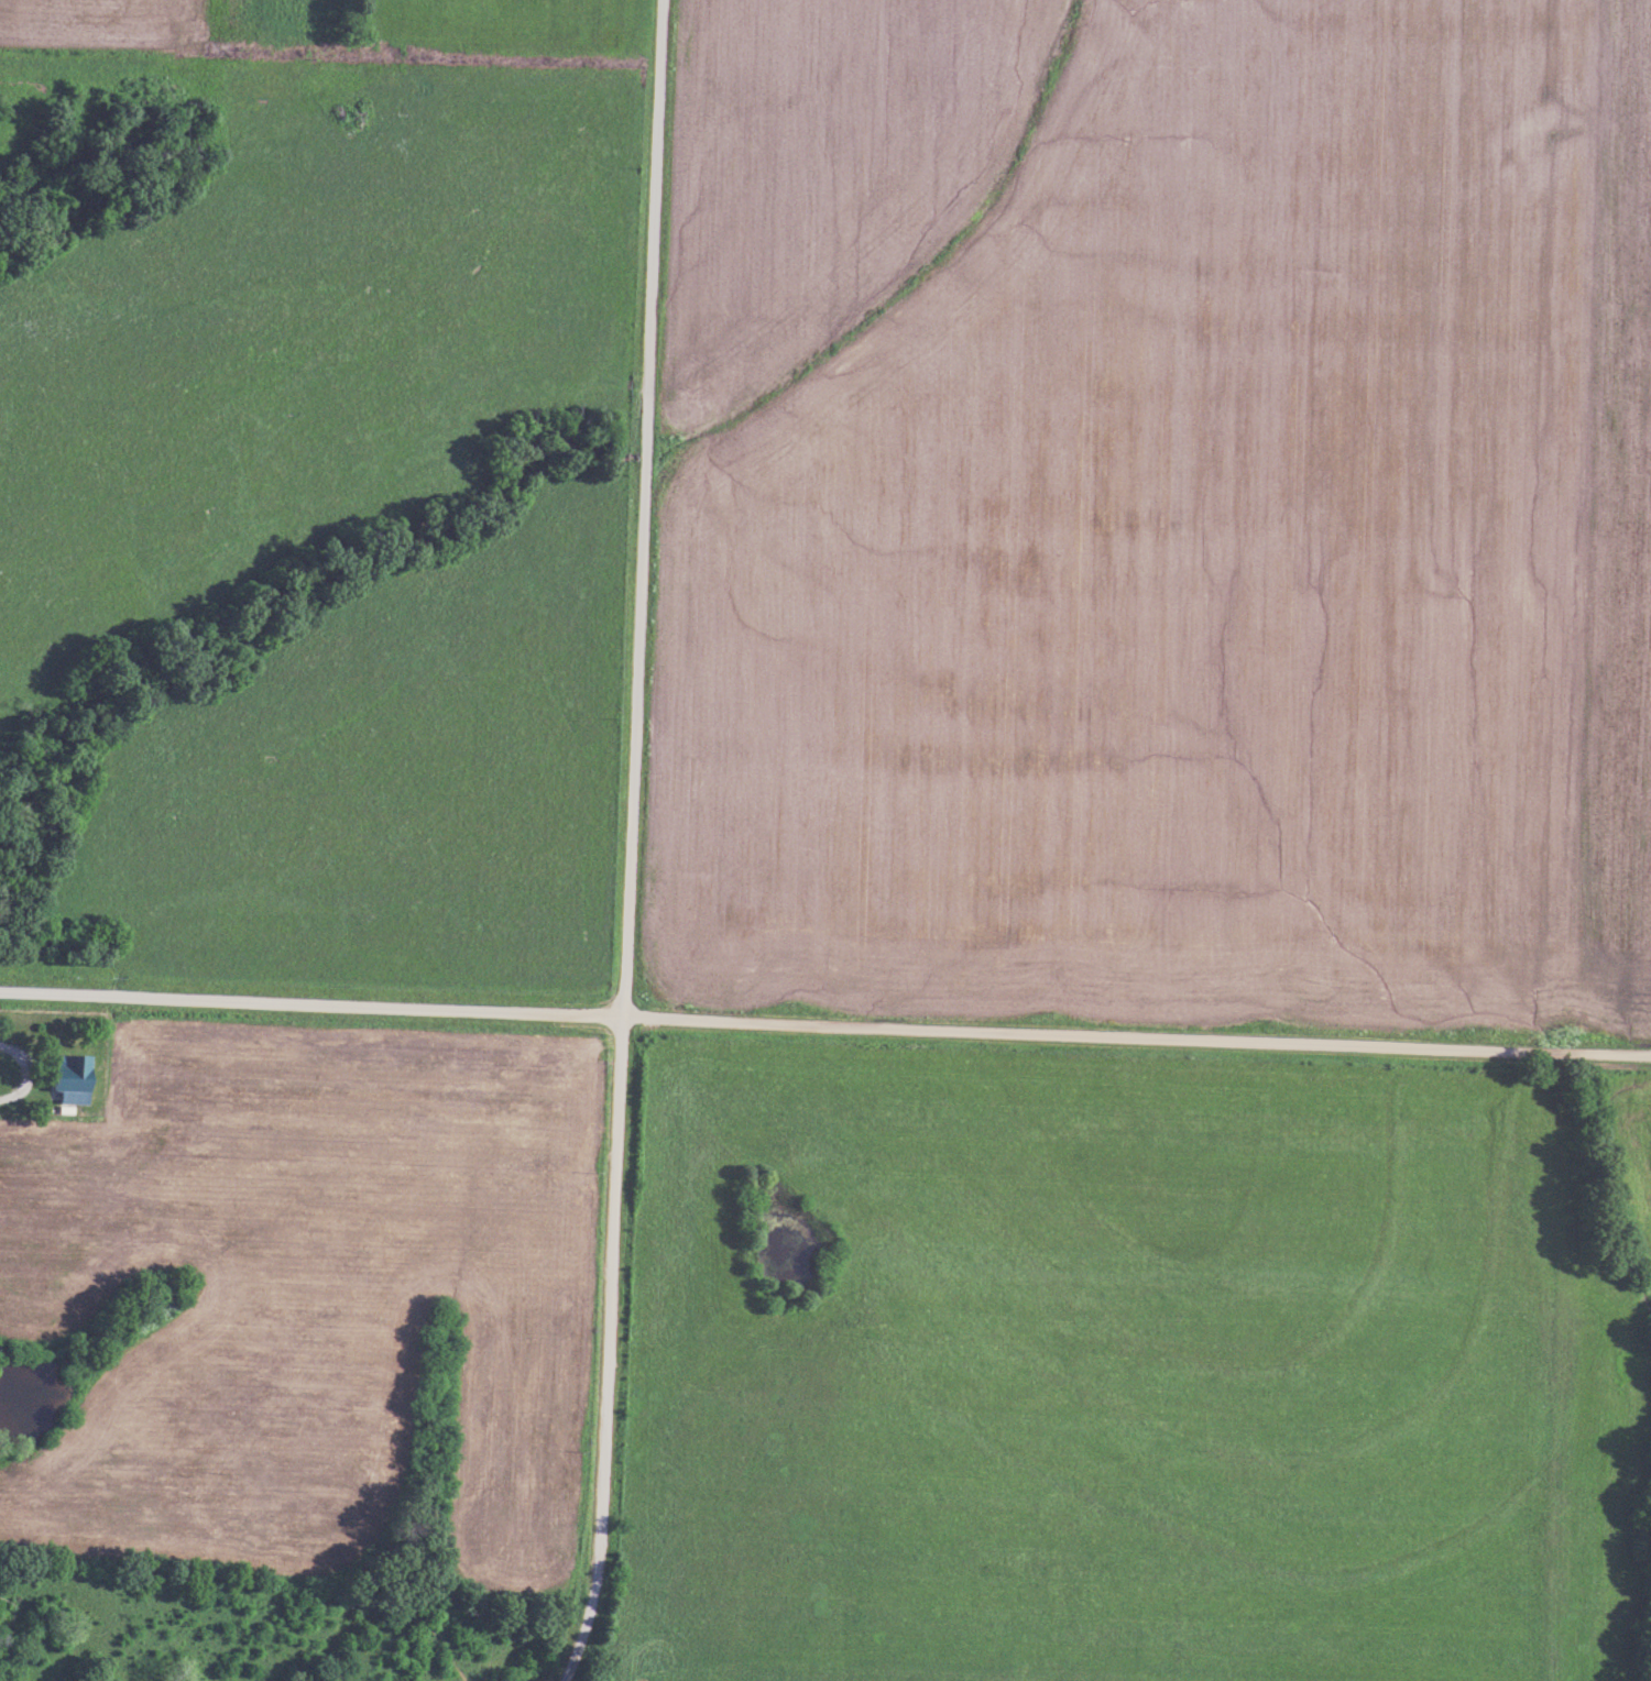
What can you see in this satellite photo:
road: (632, 843)
road: (824, 1025)
road: (37, 1075)
building: (74, 1076)

